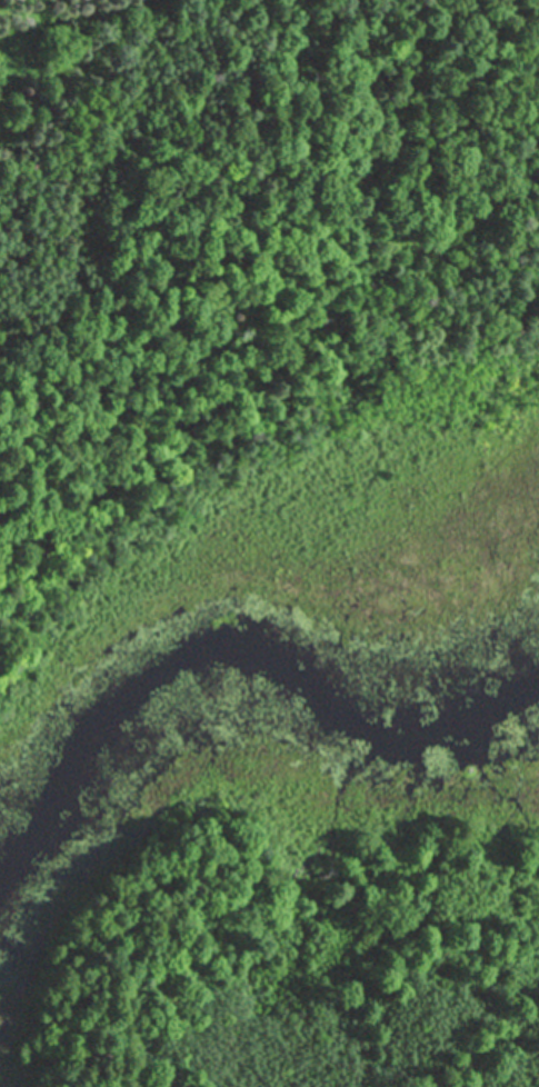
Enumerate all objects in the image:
river: (285, 671)
river: (33, 836)

